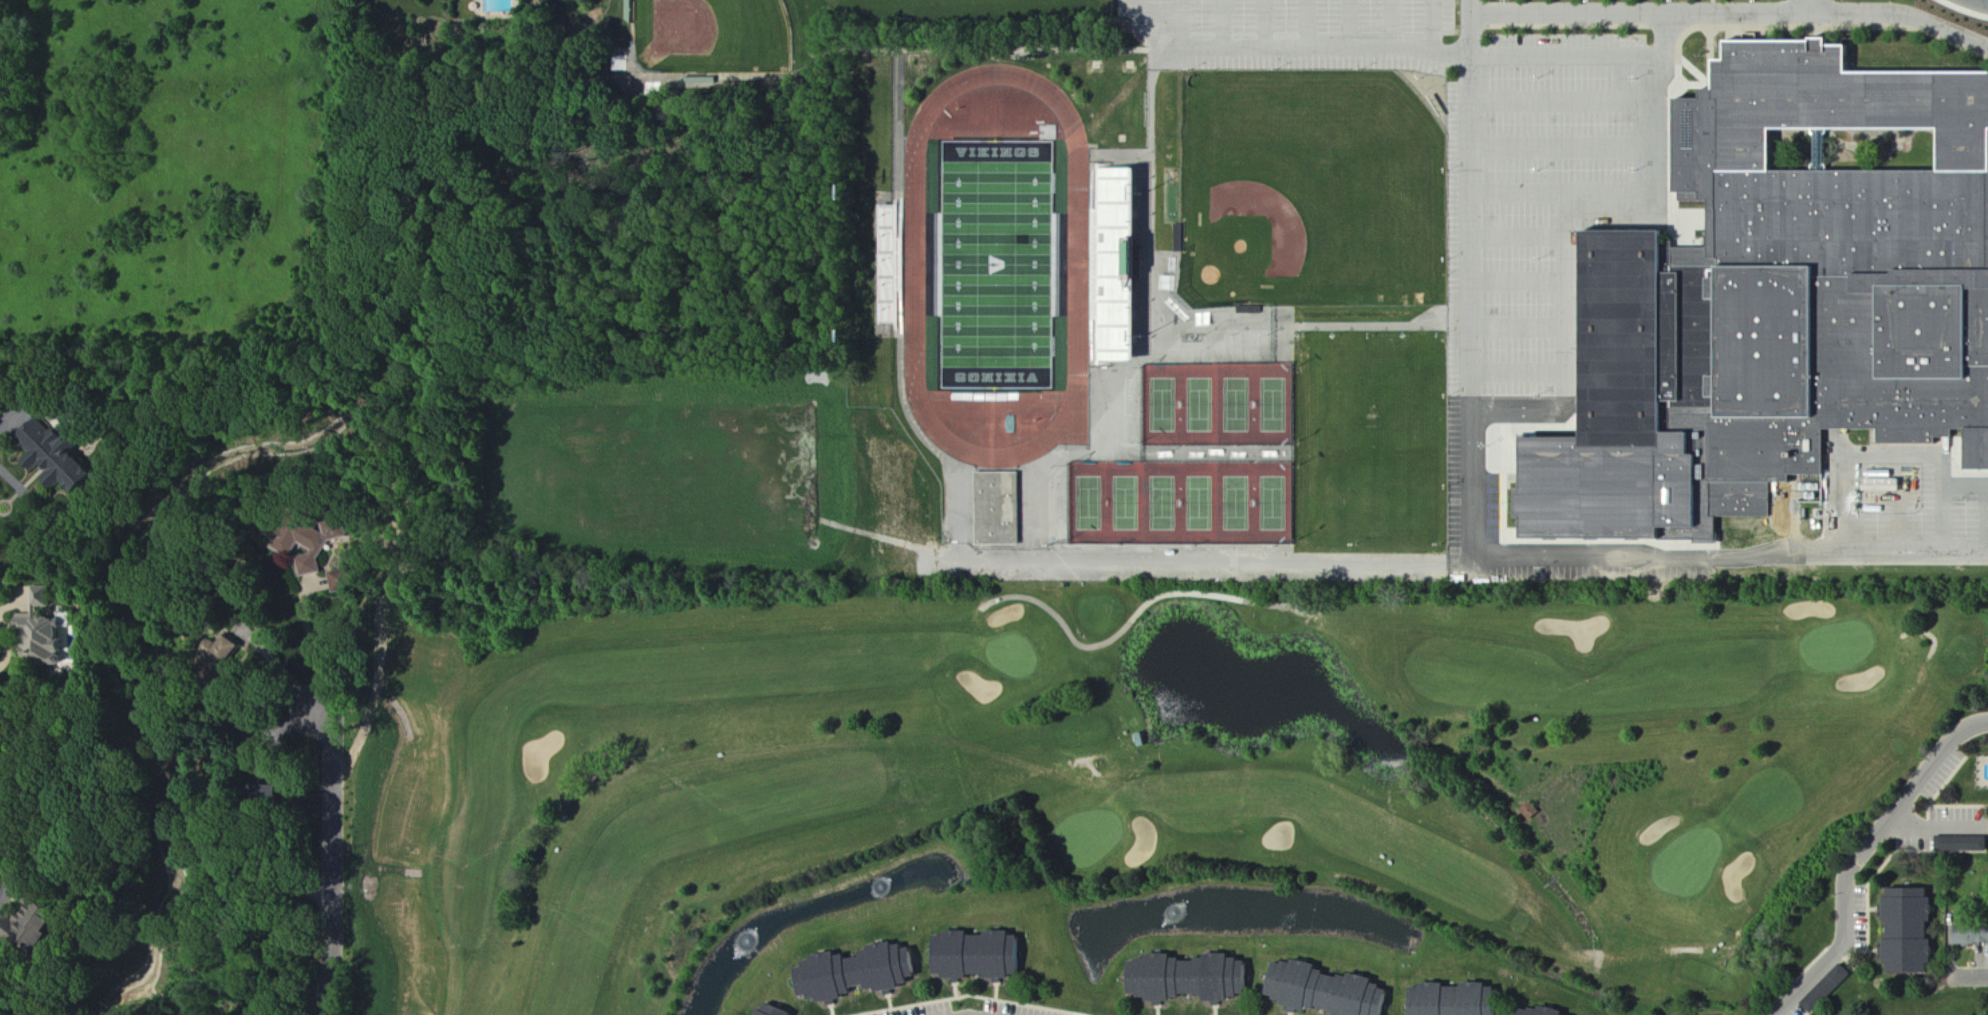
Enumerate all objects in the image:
road: (1816, 5)
road: (1732, 10)
road: (1963, 10)
road: (1177, 22)
road: (1218, 22)
road: (1261, 22)
road: (1303, 22)
road: (1344, 22)
road: (1389, 22)
road: (1429, 25)
park: (712, 35)
road: (1267, 44)
road: (1448, 52)
road: (1565, 54)
park: (1312, 190)
road: (1588, 222)
park: (999, 265)
building: (1123, 265)
track: (917, 266)
road: (1463, 276)
building: (1778, 292)
park: (1221, 405)
road: (11, 416)
building: (59, 455)
road: (1916, 461)
building: (1828, 487)
building: (1889, 487)
road: (24, 499)
park: (1184, 504)
building: (998, 507)
building: (322, 546)
road: (1444, 554)
building: (346, 581)
building: (44, 631)
road: (310, 636)
building: (227, 653)
road: (277, 661)
park: (1140, 768)
building: (1532, 812)
building: (1959, 844)
road: (1861, 858)
road: (333, 859)
road: (10, 875)
building: (35, 925)
building: (1902, 932)
building: (1968, 935)
road: (0, 943)
building: (983, 956)
building: (862, 973)
road: (1970, 976)
building: (1195, 979)
building: (1823, 989)
building: (1332, 992)
building: (777, 1012)
building: (1547, 1012)

